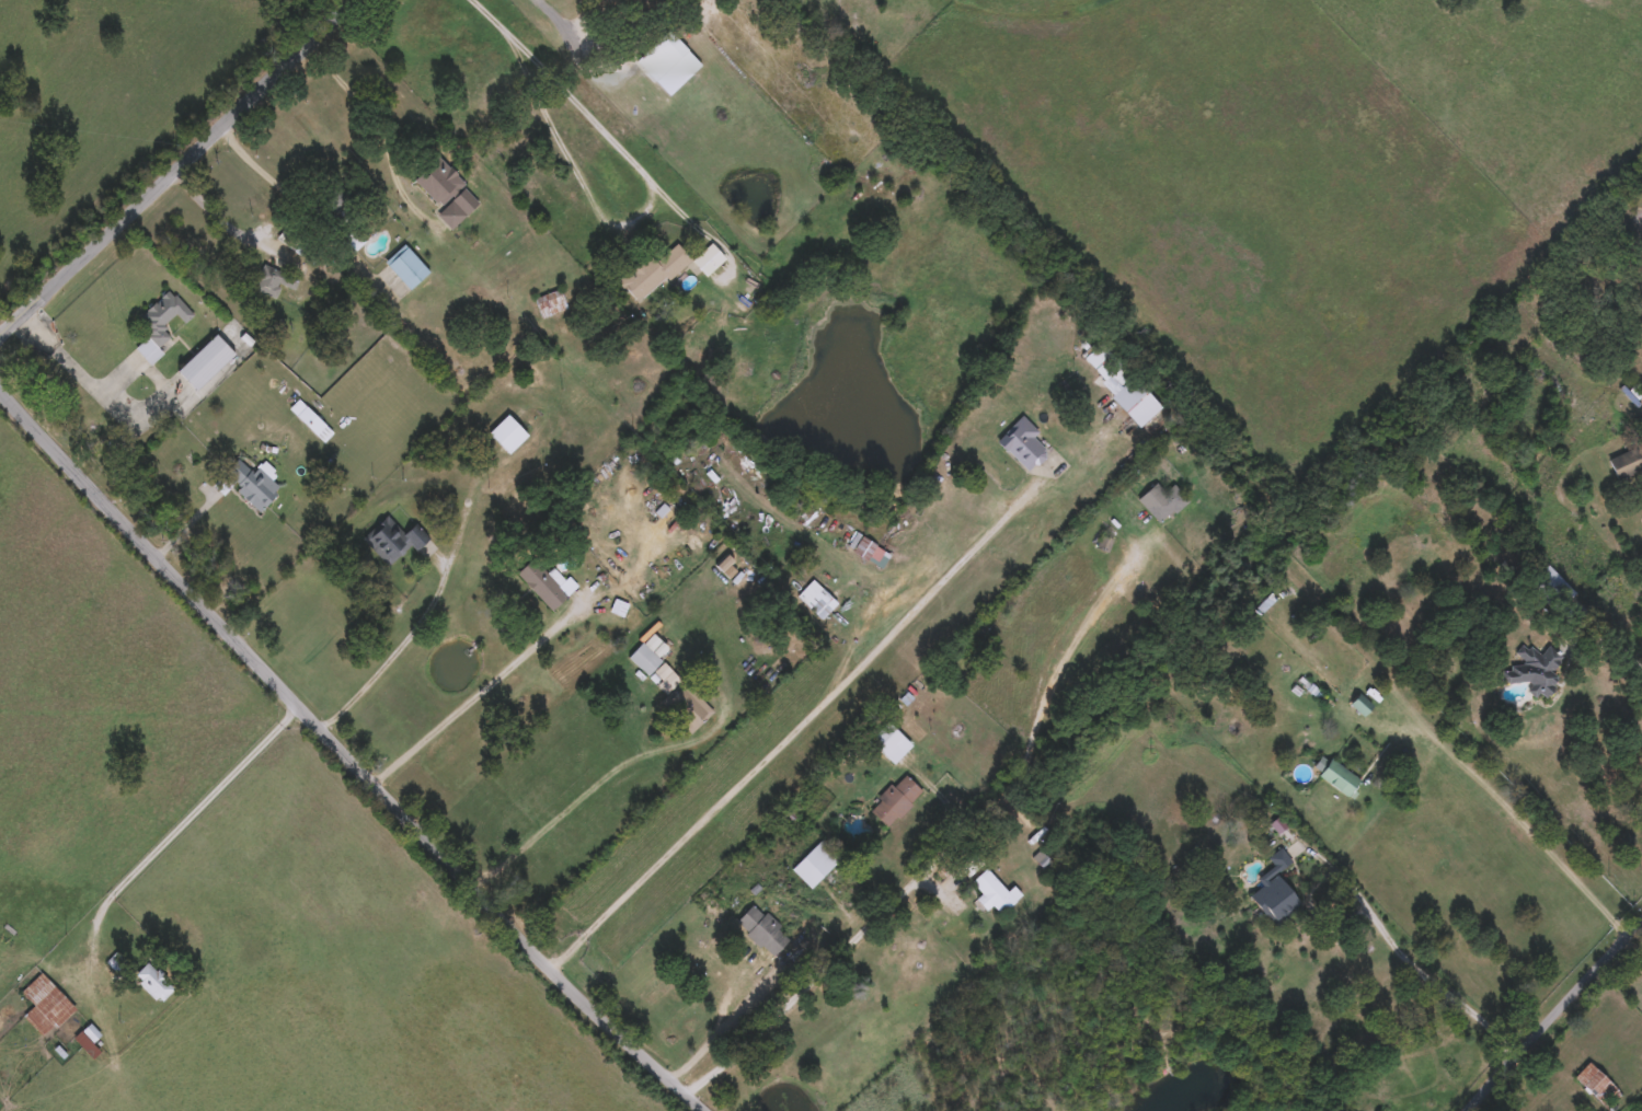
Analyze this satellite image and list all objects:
road: (575, 32)
building: (659, 54)
road: (379, 109)
road: (227, 119)
road: (606, 130)
road: (259, 163)
building: (445, 186)
building: (331, 199)
road: (214, 209)
building: (708, 258)
building: (406, 266)
building: (653, 271)
building: (273, 279)
road: (50, 289)
building: (549, 302)
building: (160, 323)
building: (204, 360)
road: (77, 369)
building: (1118, 382)
building: (310, 418)
building: (506, 432)
road: (45, 438)
building: (1022, 443)
building: (1623, 463)
building: (249, 482)
building: (1161, 500)
building: (394, 537)
building: (865, 547)
building: (544, 586)
building: (1551, 587)
building: (817, 598)
road: (1616, 638)
road: (397, 649)
building: (645, 657)
building: (1532, 663)
road: (475, 691)
building: (1356, 698)
building: (688, 705)
road: (813, 714)
building: (1334, 773)
road: (589, 786)
building: (894, 799)
road: (395, 805)
road: (179, 821)
road: (1535, 830)
road: (951, 841)
building: (815, 861)
building: (1273, 889)
building: (994, 891)
building: (762, 928)
road: (1633, 945)
road: (1420, 967)
building: (152, 980)
building: (45, 1003)
road: (734, 1011)
road: (1557, 1017)
building: (88, 1039)
building: (1599, 1086)

